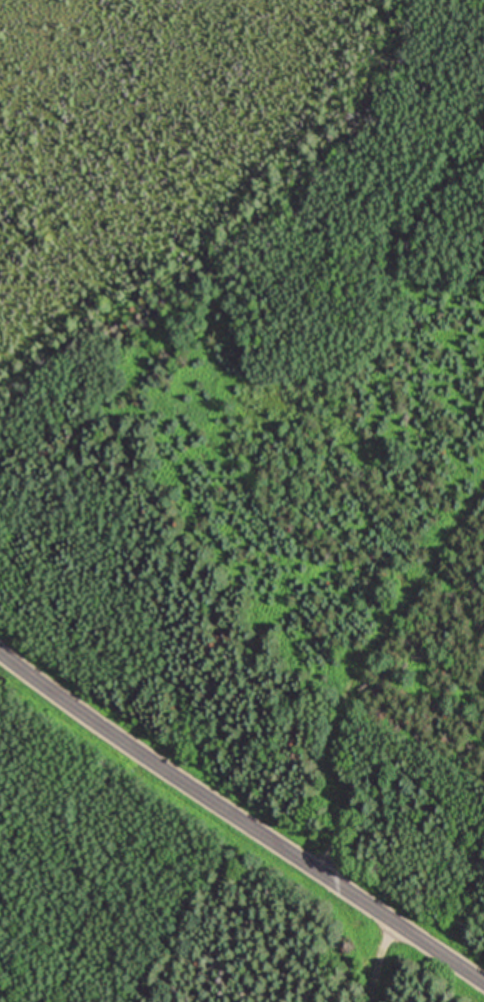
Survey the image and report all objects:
road: (357, 660)
road: (241, 817)
road: (373, 958)

